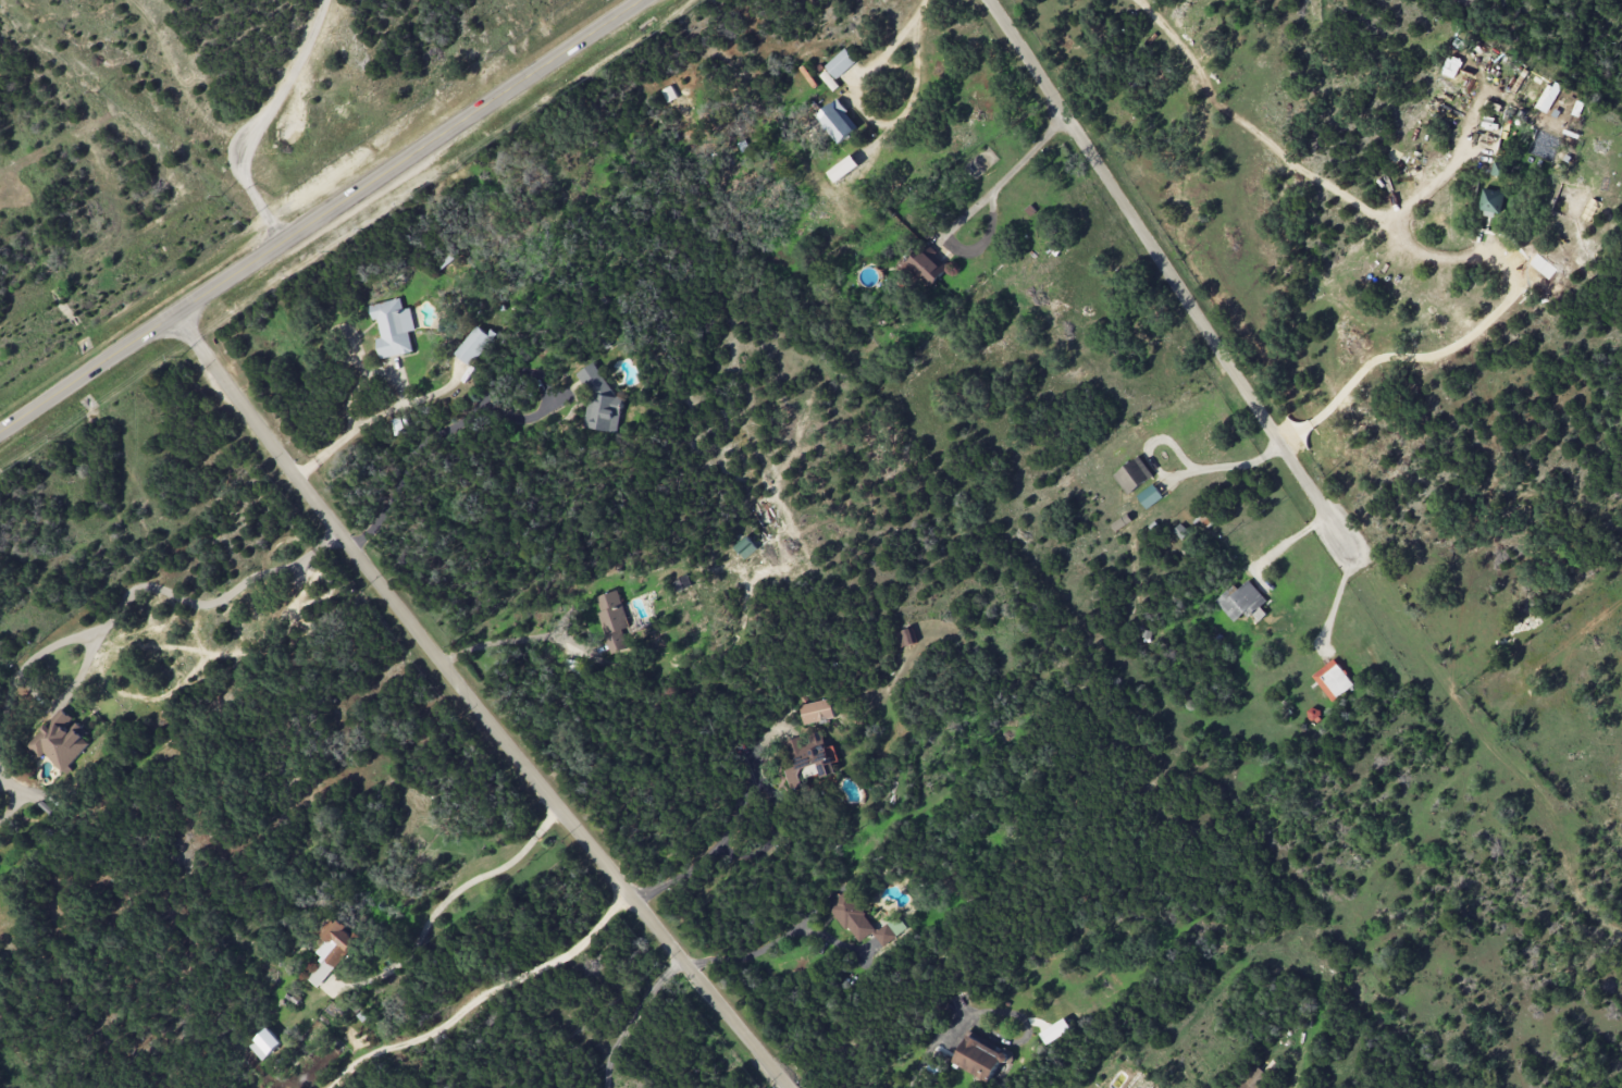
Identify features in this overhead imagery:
road: (902, 47)
building: (841, 63)
building: (1548, 97)
road: (258, 120)
building: (837, 121)
building: (843, 168)
building: (1499, 169)
road: (1012, 170)
road: (1302, 171)
building: (1490, 201)
road: (322, 218)
building: (927, 263)
road: (1165, 268)
building: (394, 329)
building: (474, 344)
building: (599, 400)
road: (433, 435)
road: (338, 437)
road: (1177, 473)
building: (1134, 474)
building: (1150, 496)
building: (1120, 522)
building: (1180, 531)
road: (1283, 543)
building: (745, 547)
road: (146, 585)
road: (1338, 593)
building: (1240, 601)
building: (612, 620)
building: (905, 638)
road: (511, 641)
building: (574, 667)
building: (1333, 680)
road: (476, 705)
building: (816, 712)
building: (59, 740)
building: (806, 758)
road: (13, 798)
road: (741, 801)
road: (446, 898)
building: (864, 920)
building: (332, 950)
road: (742, 956)
road: (481, 994)
road: (631, 1016)
building: (265, 1043)
road: (929, 1047)
building: (980, 1058)
building: (1253, 1078)

